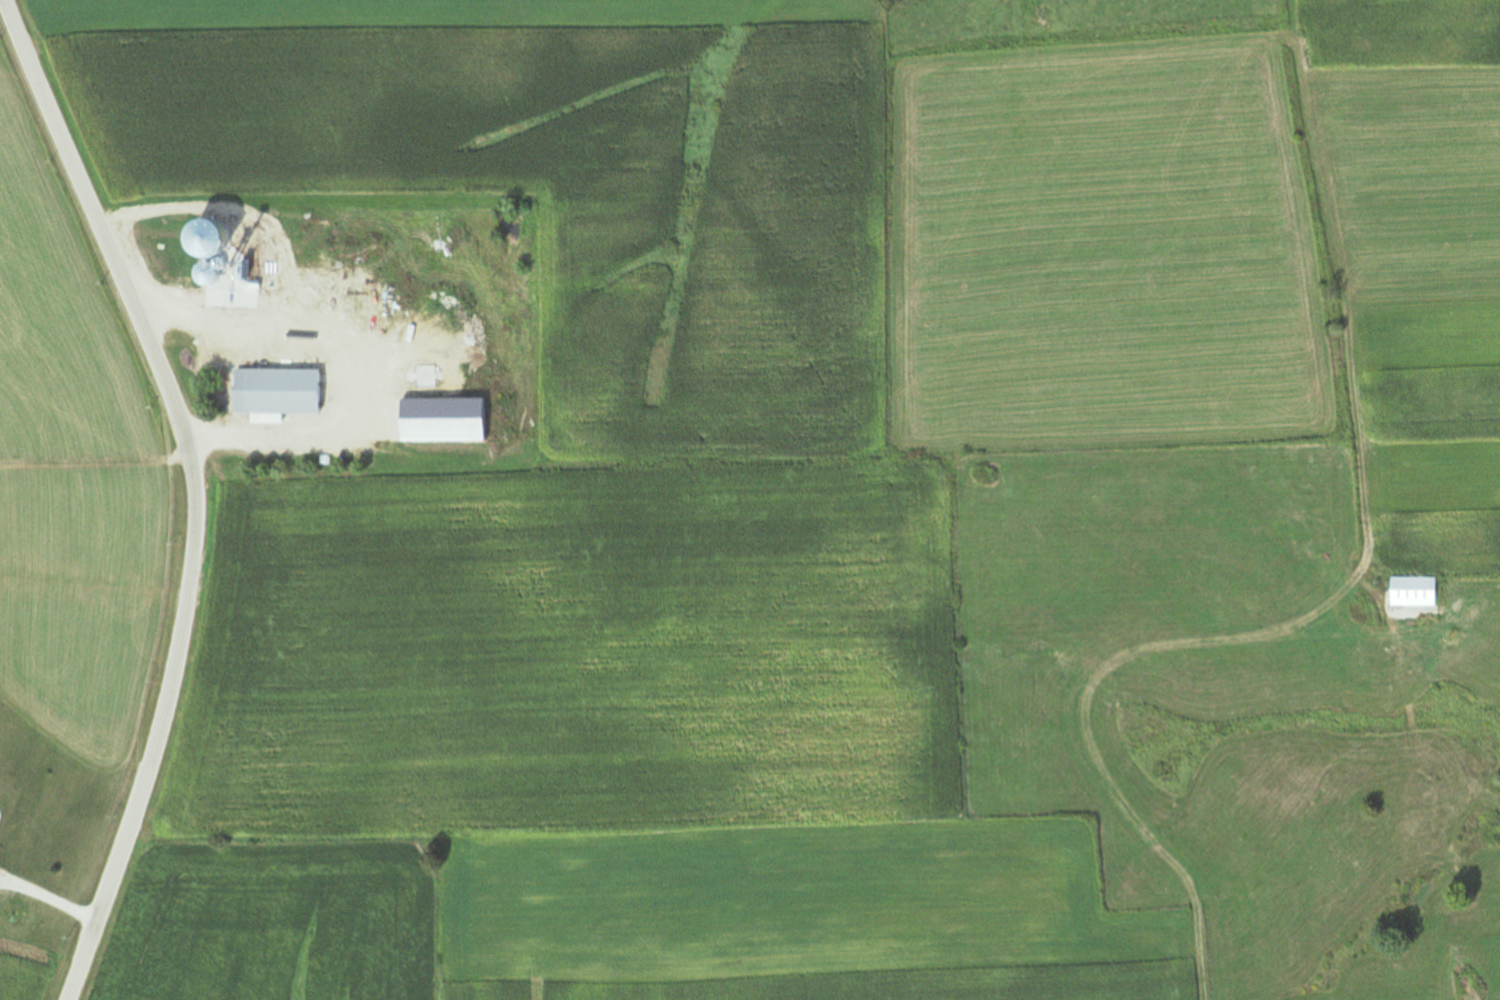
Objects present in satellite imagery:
building: (277, 392)
road: (198, 491)
building: (1413, 591)
road: (48, 898)

